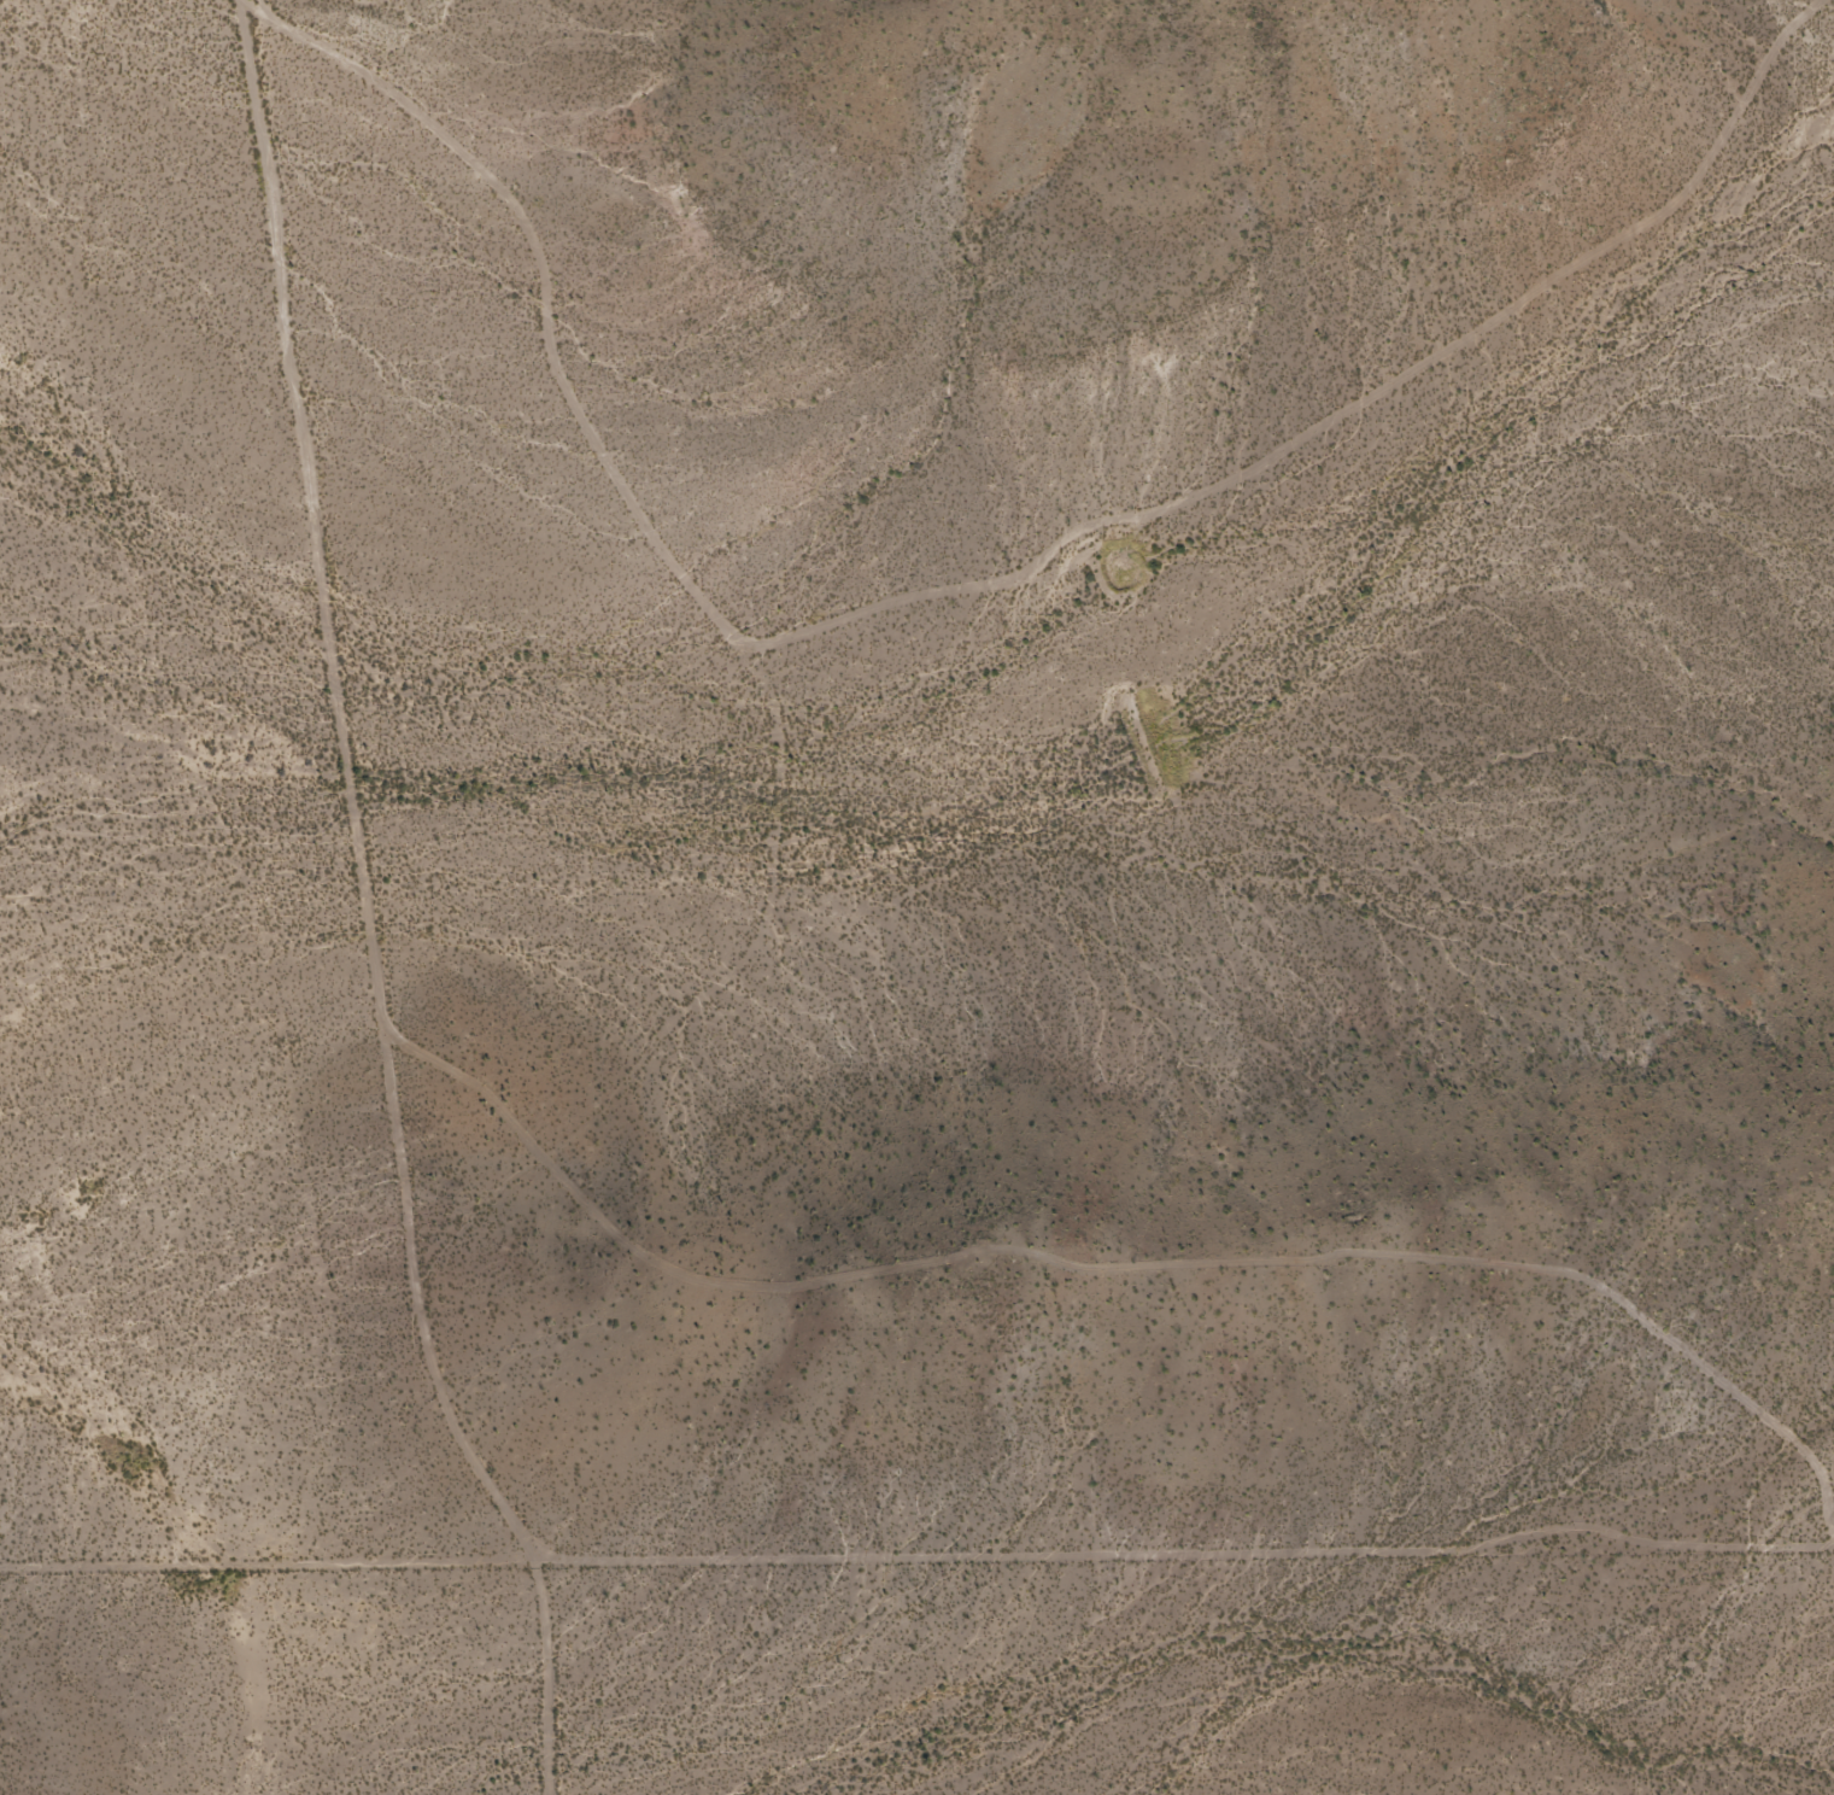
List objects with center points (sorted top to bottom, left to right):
road: (346, 907)

